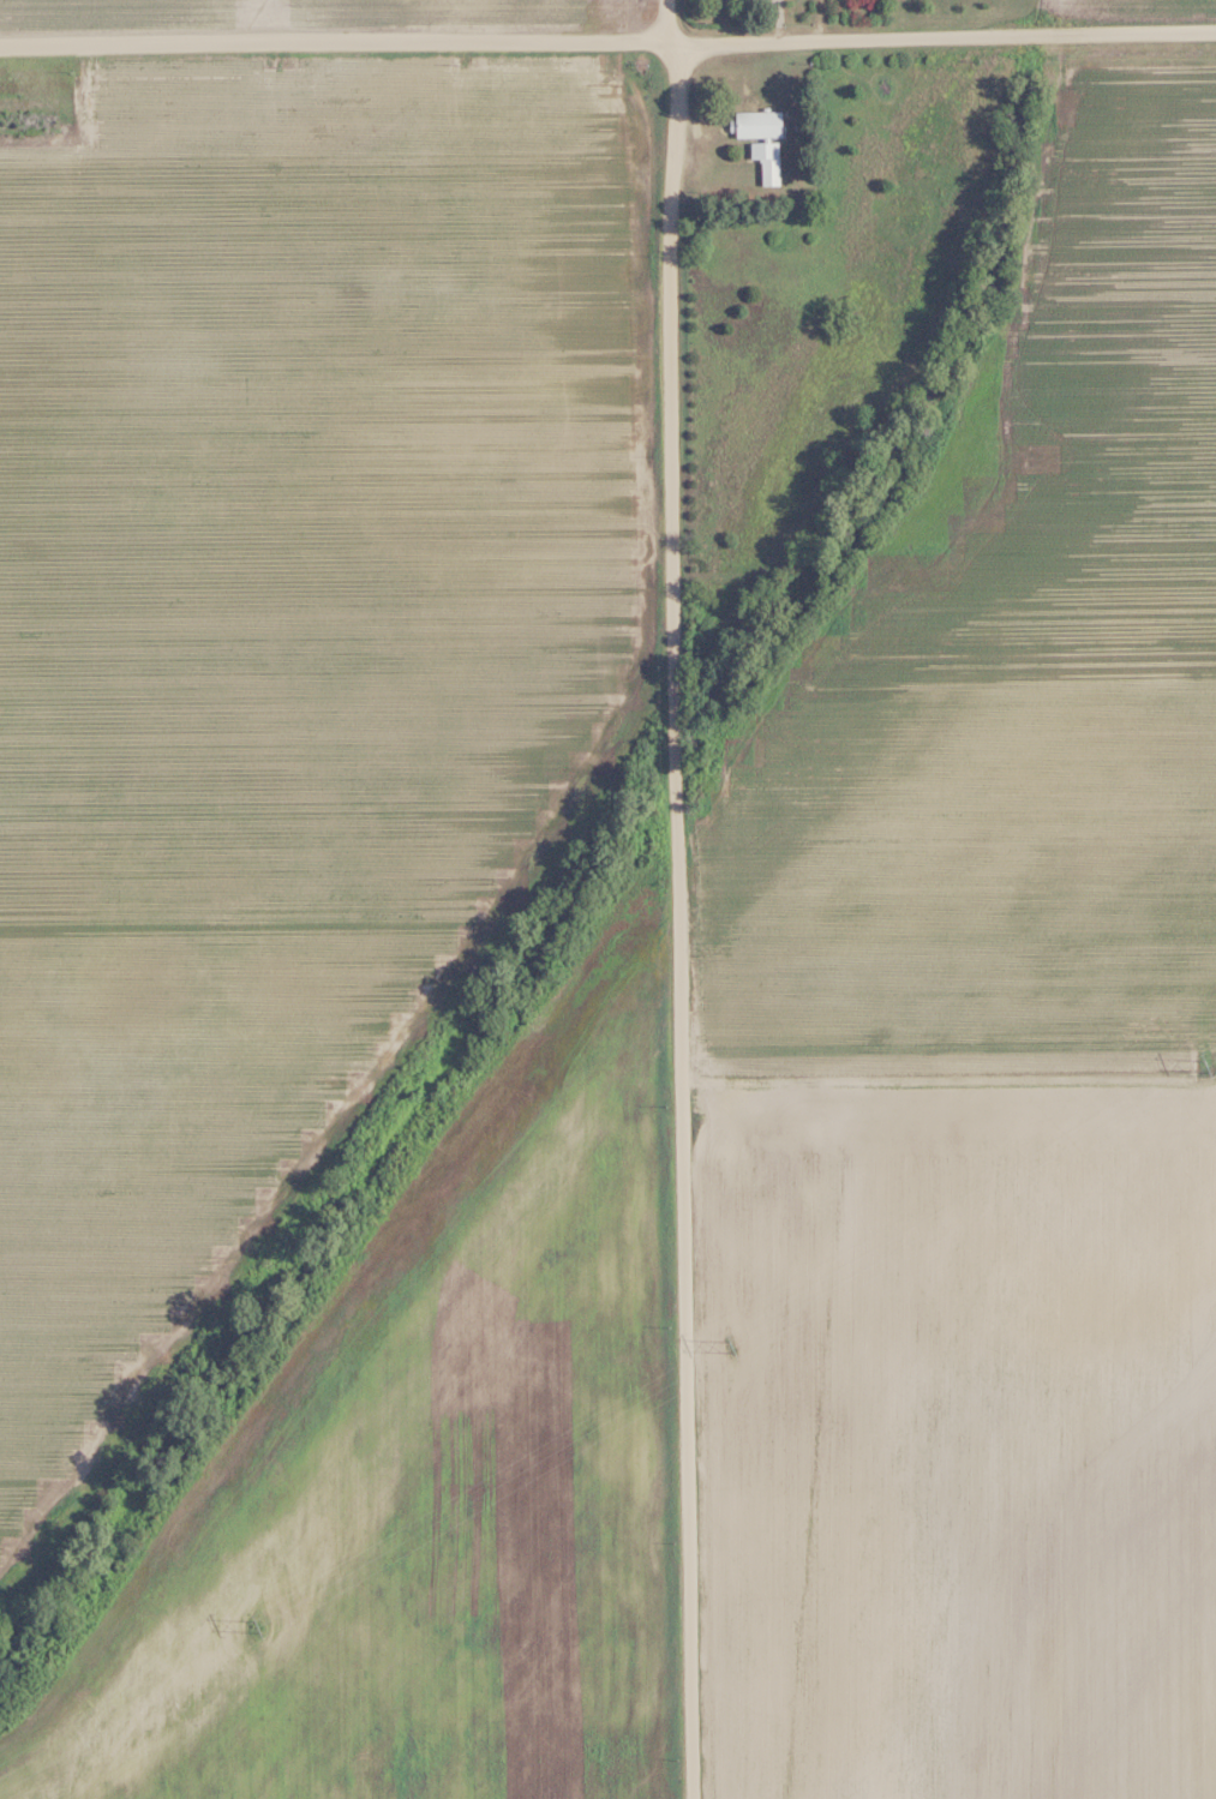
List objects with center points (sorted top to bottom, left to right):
road: (942, 36)
road: (335, 47)
building: (756, 124)
building: (765, 161)
road: (677, 899)
power tower: (1203, 1061)
power tower: (733, 1347)
power tower: (258, 1626)

